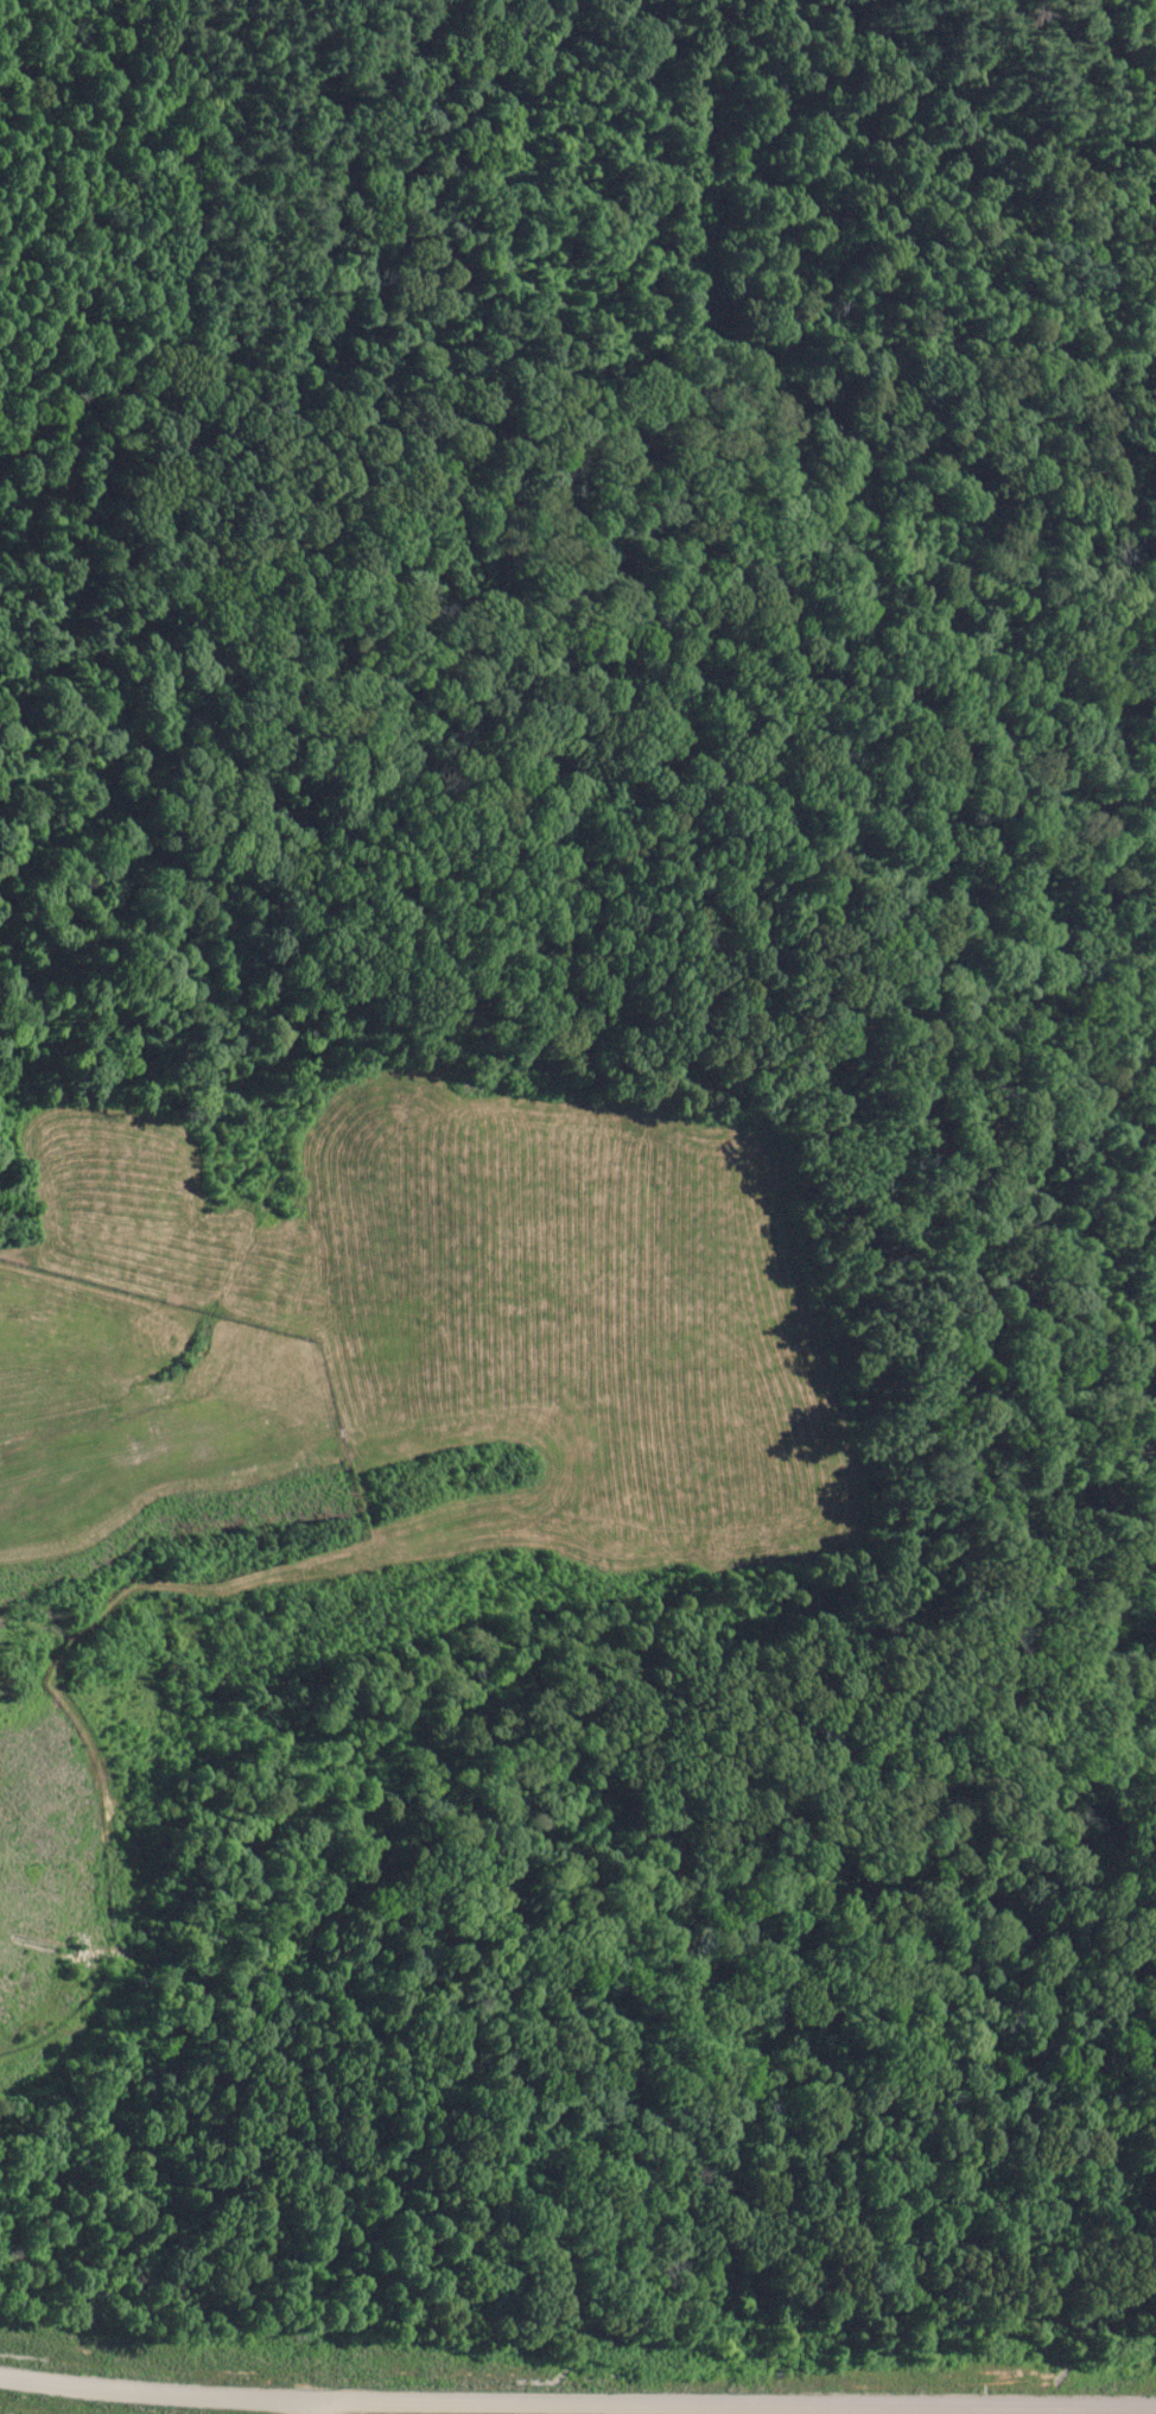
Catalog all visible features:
airport: (123, 1559)

